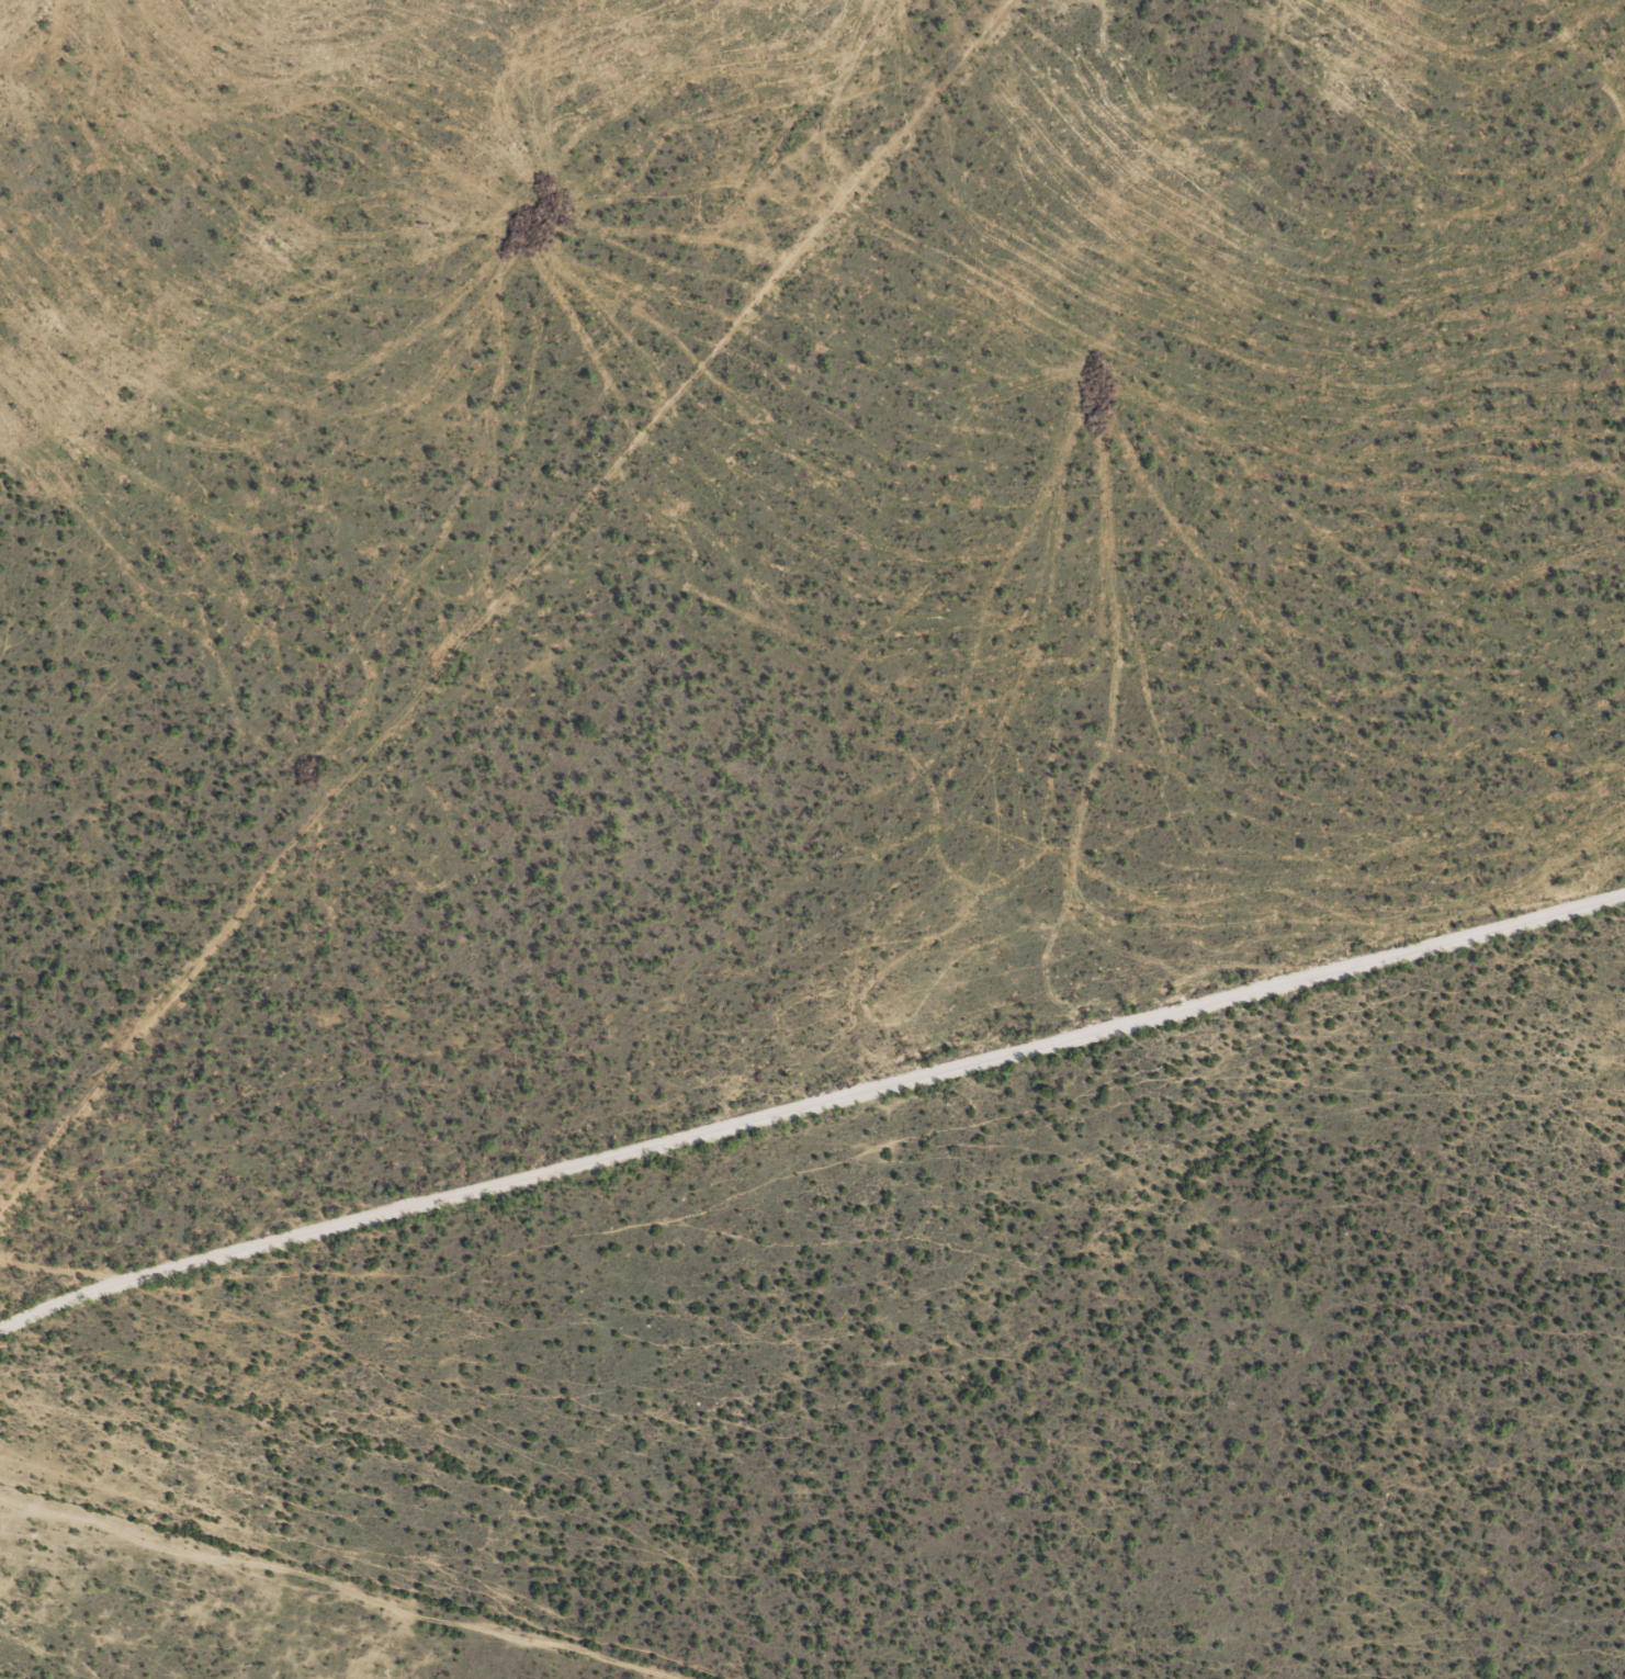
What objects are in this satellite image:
road: (821, 1204)

